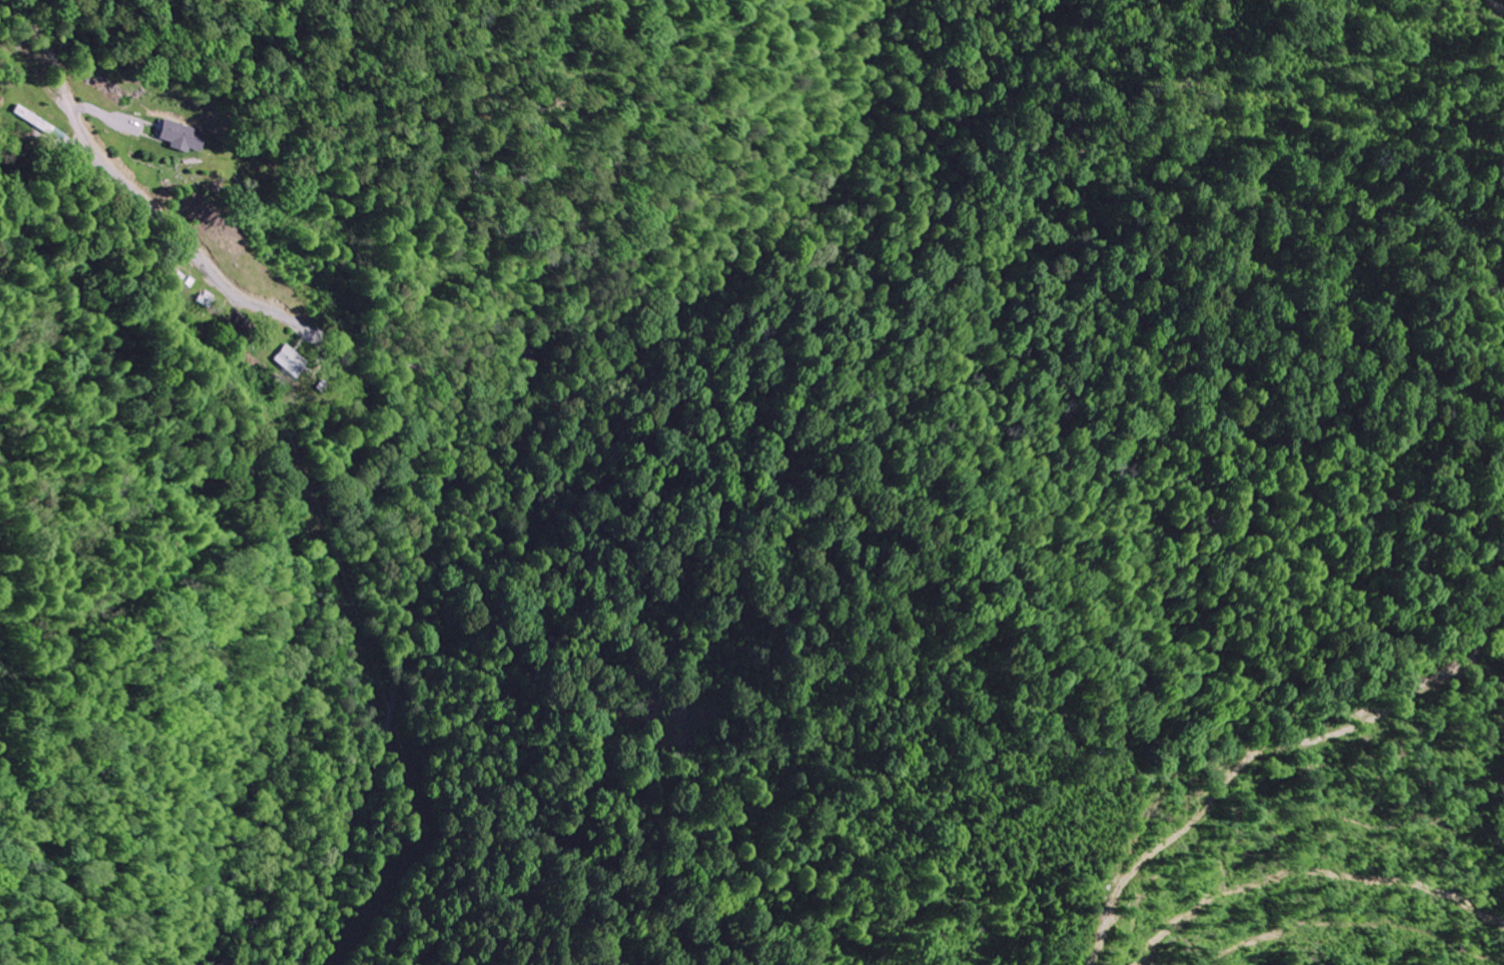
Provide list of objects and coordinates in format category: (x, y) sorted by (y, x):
building: (31, 123)
building: (181, 137)
building: (203, 299)
road: (515, 353)
building: (289, 361)

